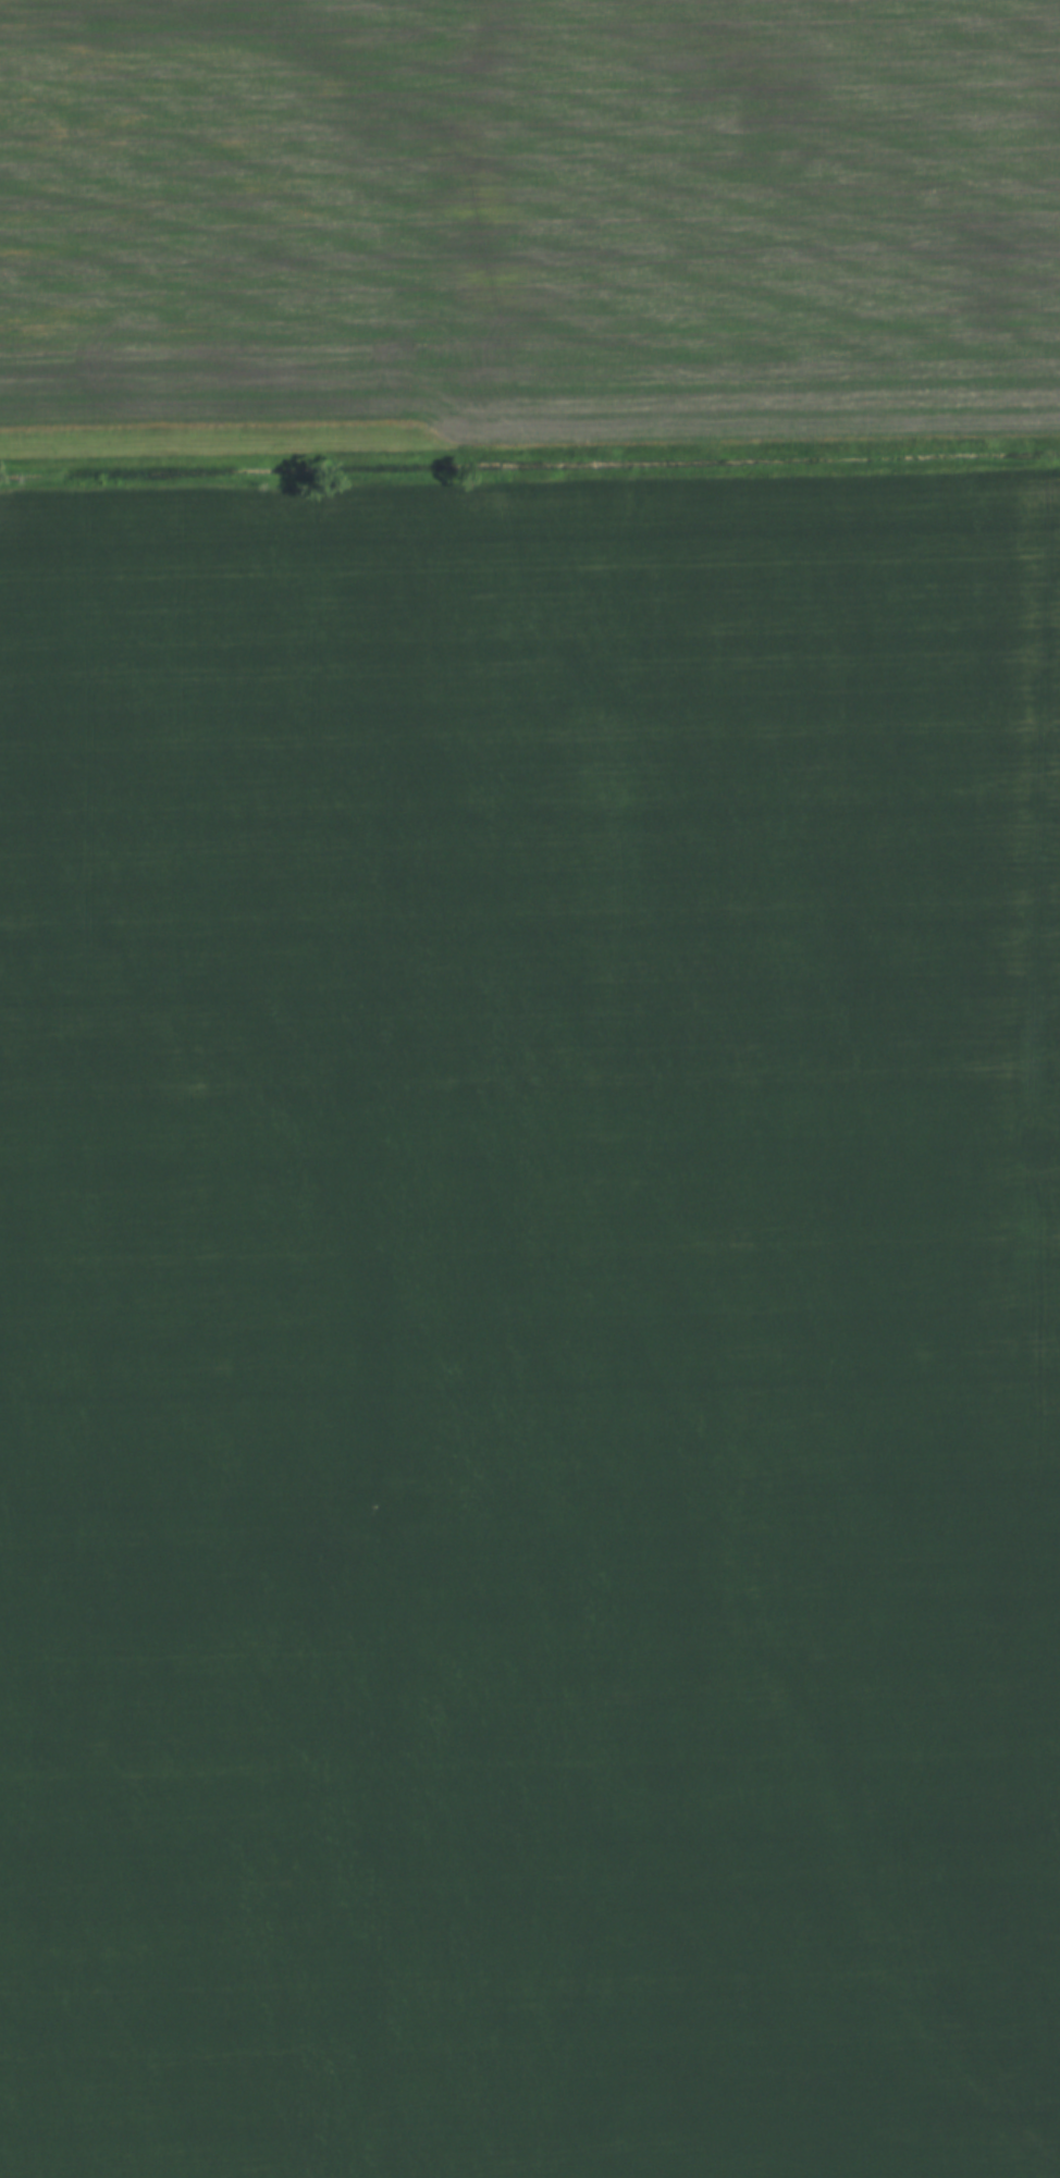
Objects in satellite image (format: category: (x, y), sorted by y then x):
crop: (532, 214)
road: (530, 442)
crop: (530, 993)
crop: (181, 1838)
crop: (711, 1841)

